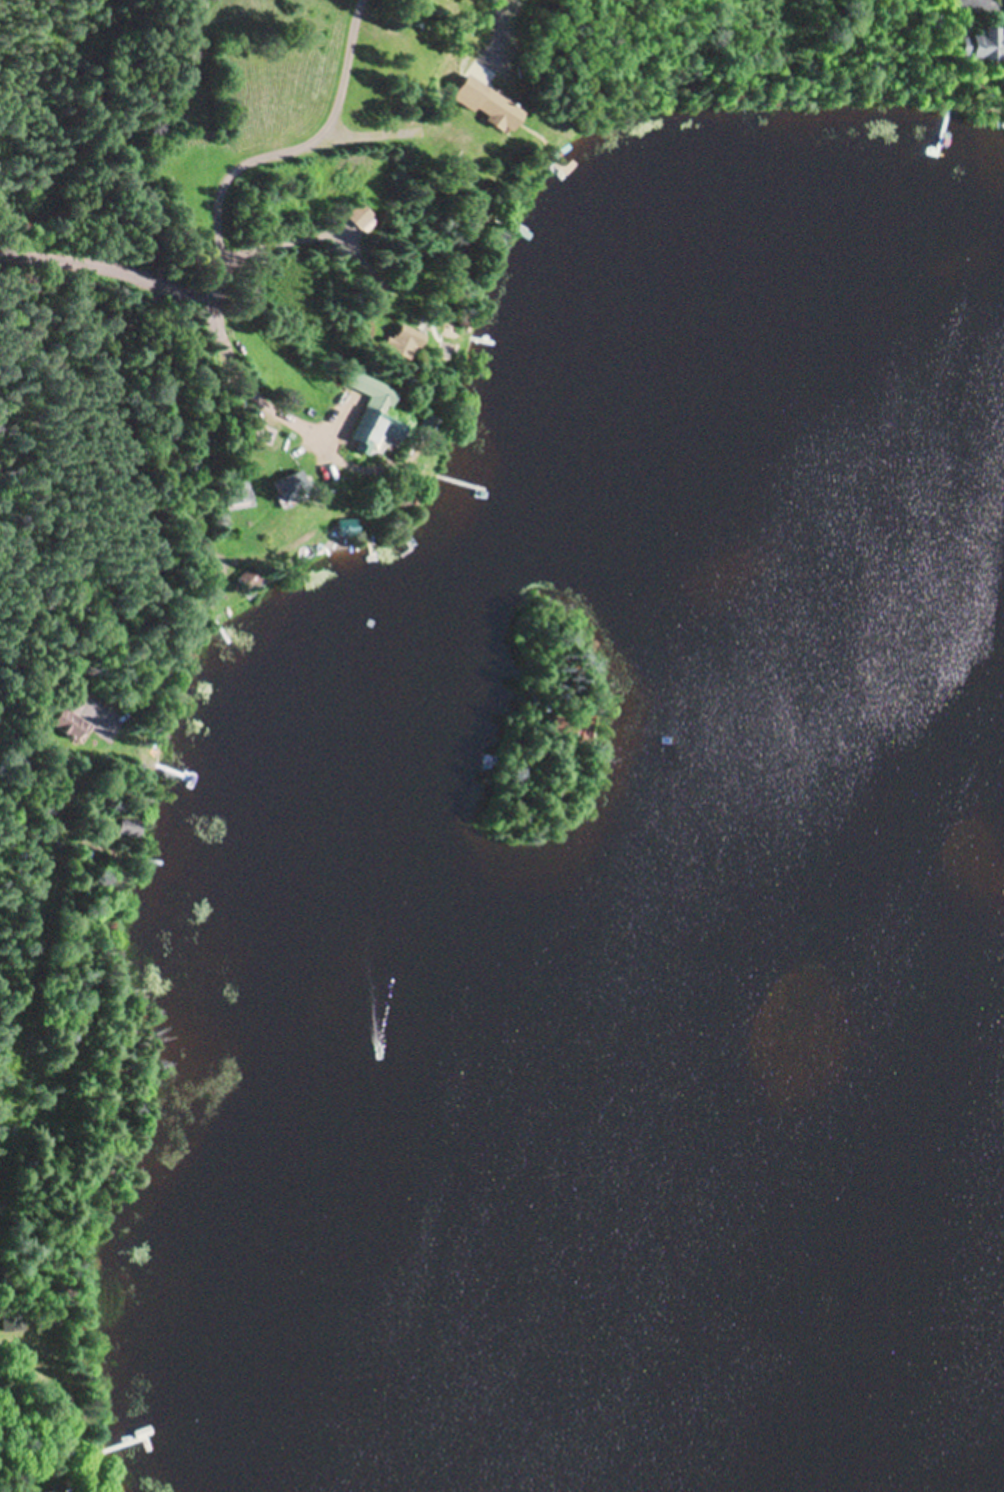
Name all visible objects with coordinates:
road: (221, 189)
road: (108, 263)
road: (46, 625)
road: (120, 696)

